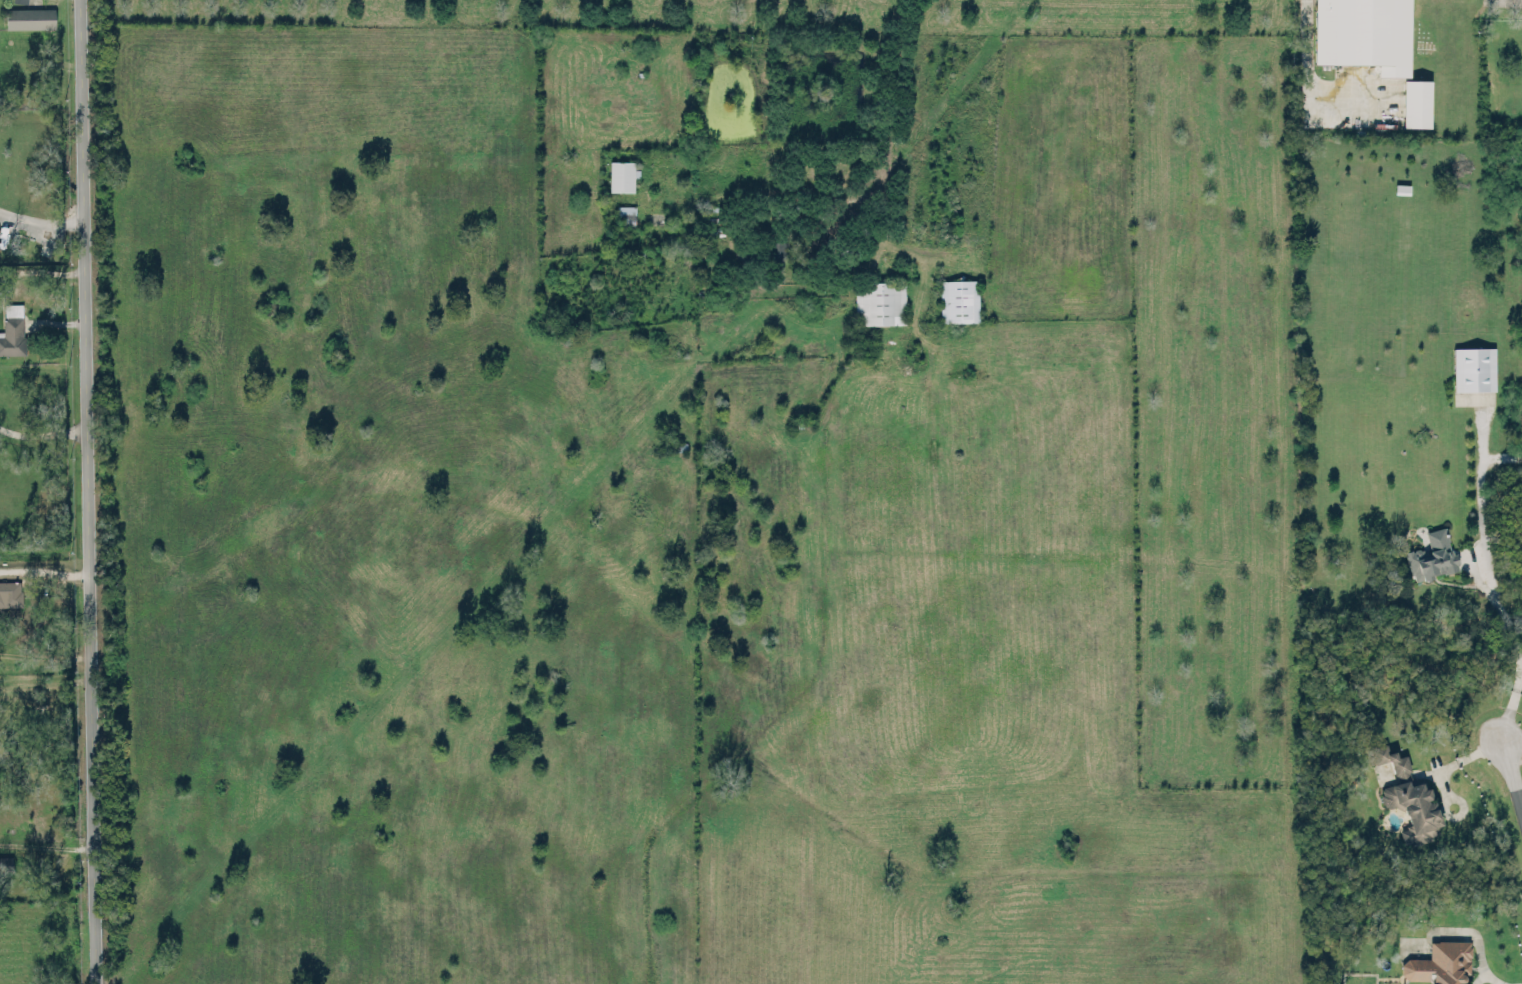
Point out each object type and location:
building: (20, 0)
road: (1515, 0)
building: (29, 17)
building: (1363, 35)
road: (1307, 88)
building: (1416, 104)
road: (891, 126)
building: (621, 174)
road: (832, 204)
building: (625, 215)
road: (40, 219)
road: (42, 268)
building: (4, 288)
building: (958, 299)
building: (879, 302)
building: (12, 329)
building: (1473, 368)
road: (42, 431)
road: (86, 491)
crop: (693, 491)
building: (1431, 552)
road: (43, 571)
building: (10, 592)
road: (1510, 659)
road: (43, 680)
road: (1509, 780)
building: (1407, 794)
road: (1521, 817)
road: (45, 844)
building: (6, 863)
building: (1439, 963)

